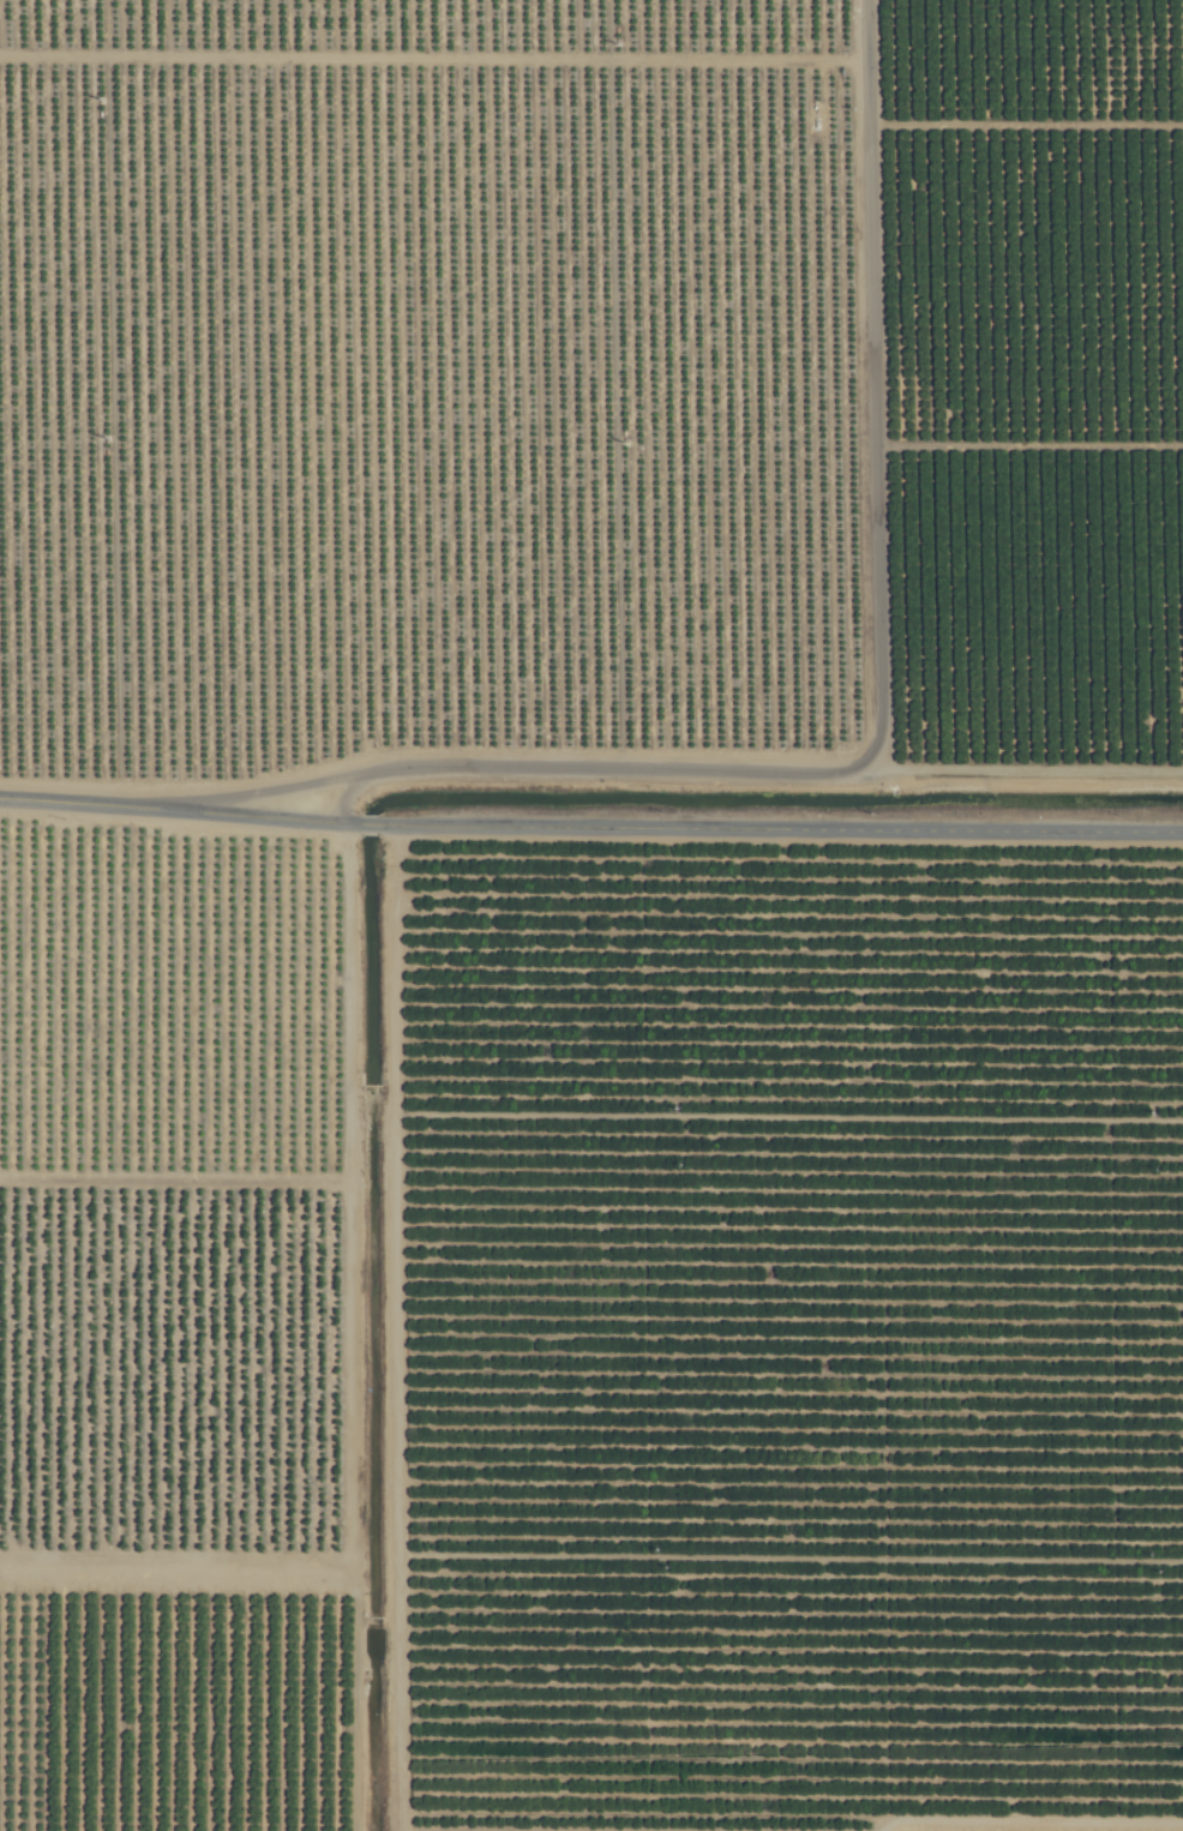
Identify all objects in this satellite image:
road: (875, 361)
road: (535, 767)
road: (346, 796)
road: (176, 810)
road: (367, 826)
road: (782, 829)
crop: (591, 916)
road: (347, 1172)
road: (349, 1543)

